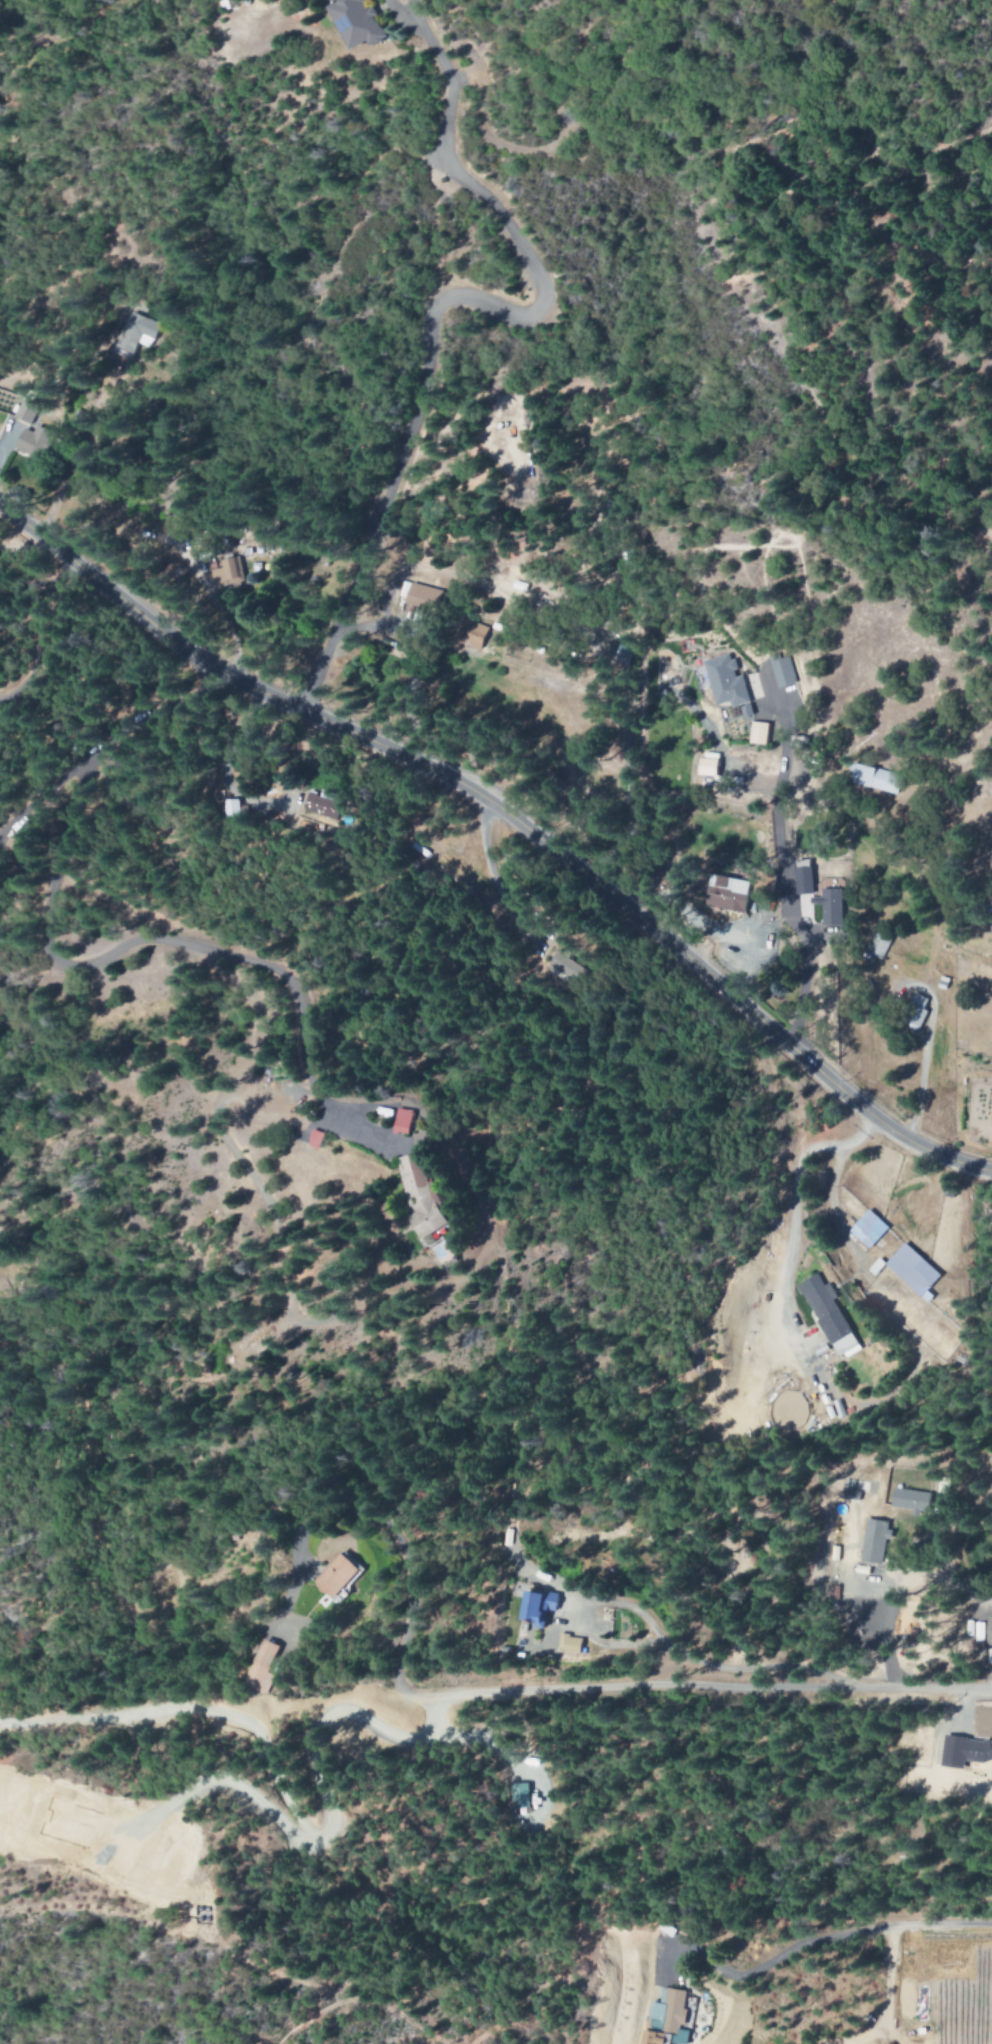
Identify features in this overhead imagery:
building: (354, 21)
road: (442, 296)
building: (136, 332)
building: (25, 414)
building: (28, 436)
building: (228, 572)
building: (420, 596)
building: (469, 634)
building: (781, 671)
building: (724, 681)
building: (758, 733)
building: (707, 765)
building: (873, 778)
building: (323, 805)
road: (511, 815)
building: (802, 877)
building: (726, 894)
building: (829, 906)
building: (877, 946)
building: (566, 969)
building: (913, 1012)
building: (397, 1122)
building: (309, 1140)
building: (414, 1196)
building: (867, 1229)
building: (912, 1271)
building: (828, 1316)
building: (849, 1494)
building: (910, 1500)
building: (872, 1541)
building: (330, 1574)
building: (535, 1606)
building: (989, 1638)
building: (568, 1644)
building: (259, 1667)
road: (692, 1685)
building: (964, 1751)
building: (519, 1795)
building: (666, 2019)

